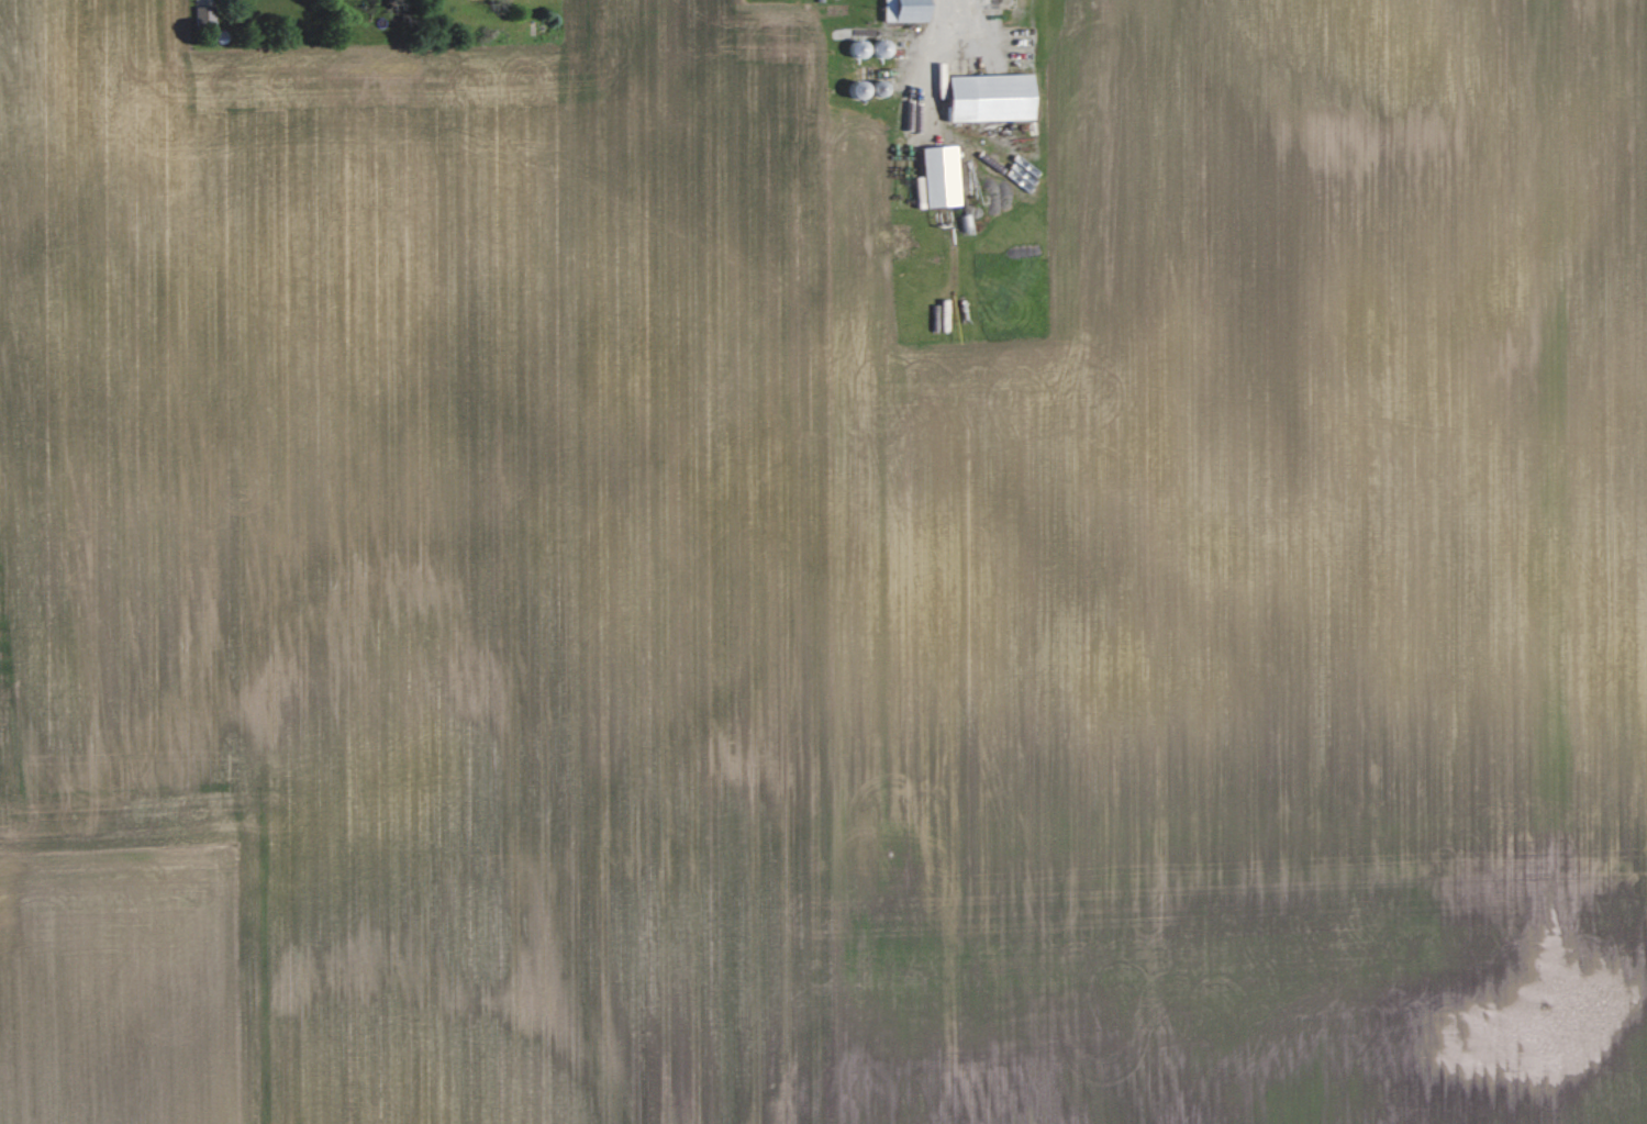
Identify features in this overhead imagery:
building: (905, 10)
building: (205, 15)
road: (965, 19)
building: (989, 98)
building: (939, 177)

